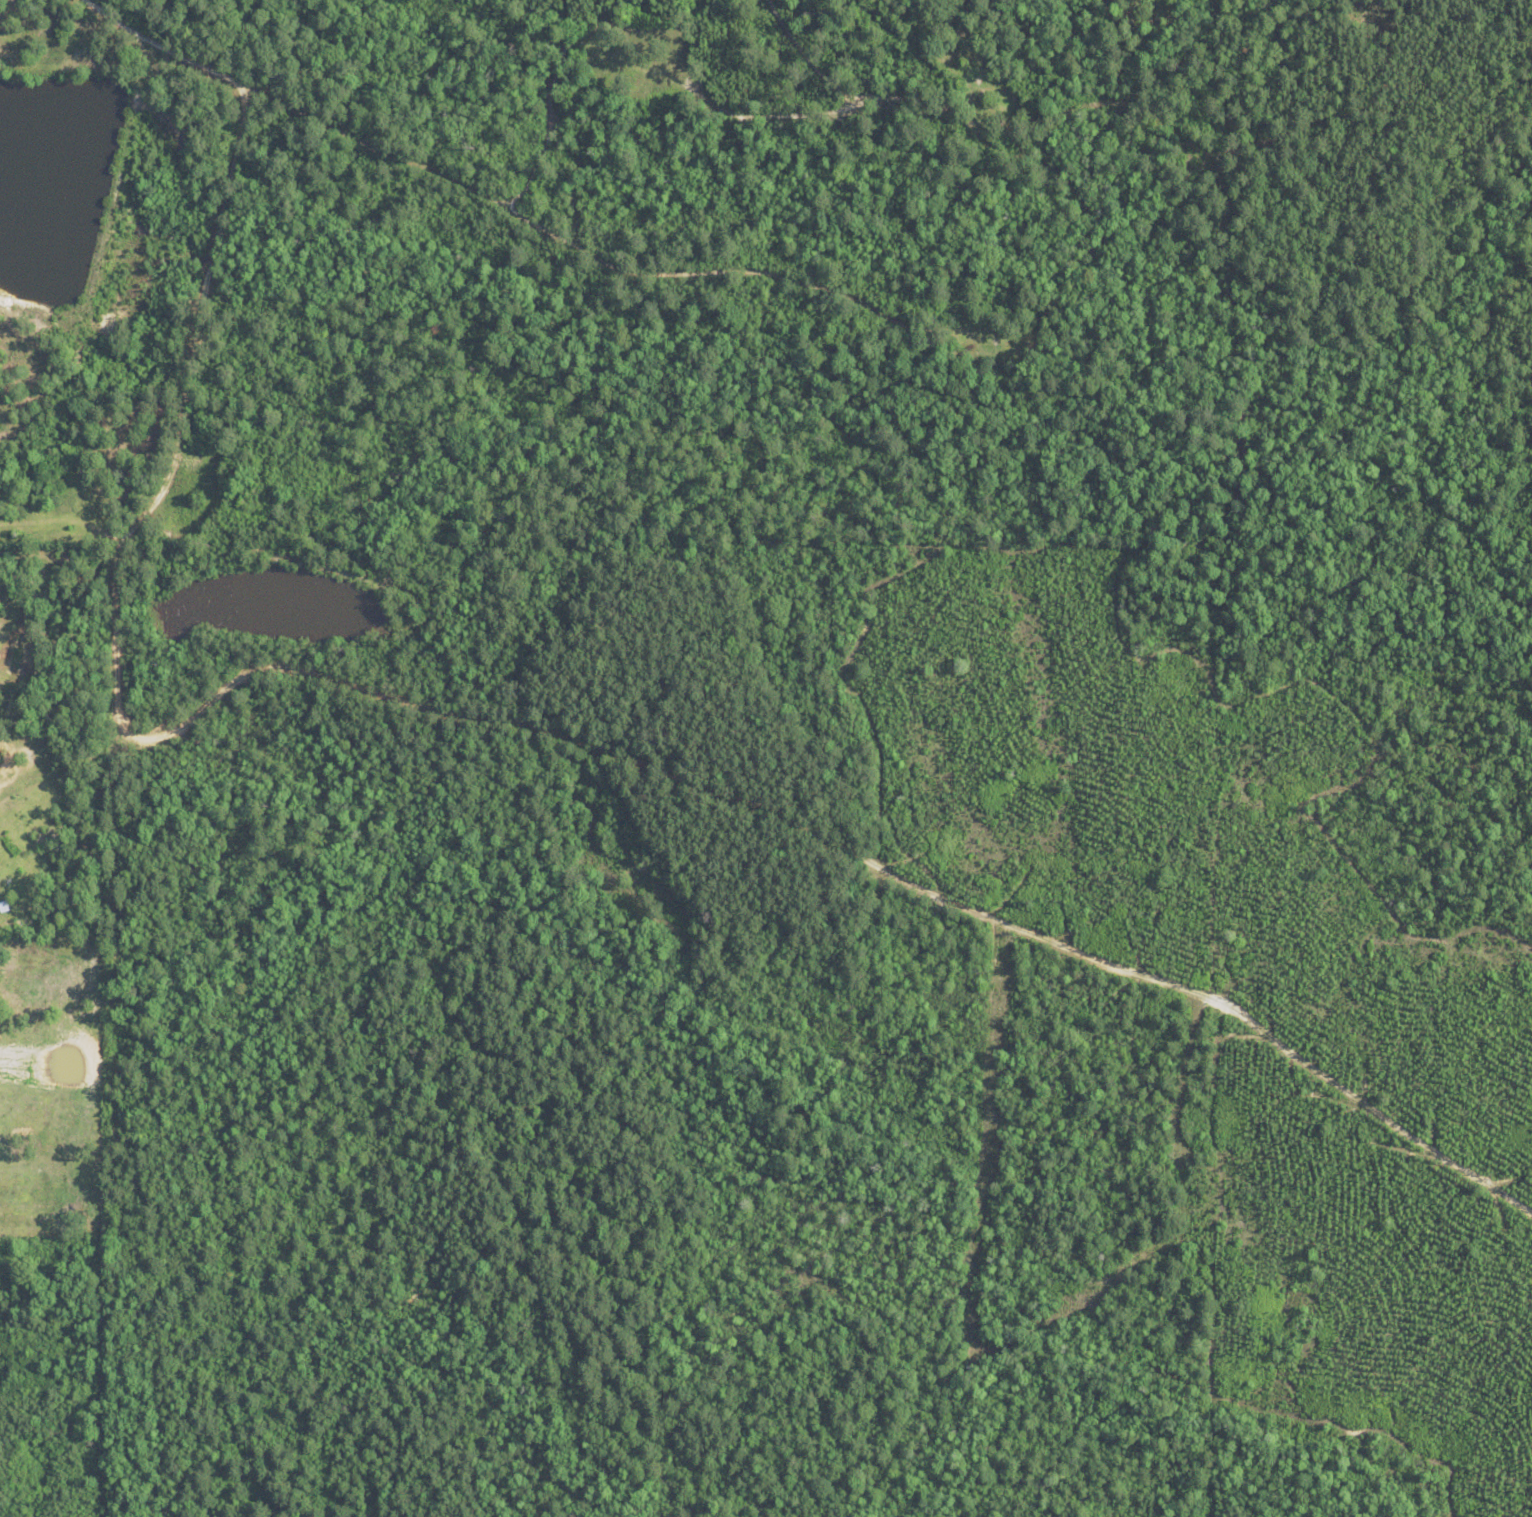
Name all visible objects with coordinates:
road: (407, 159)

